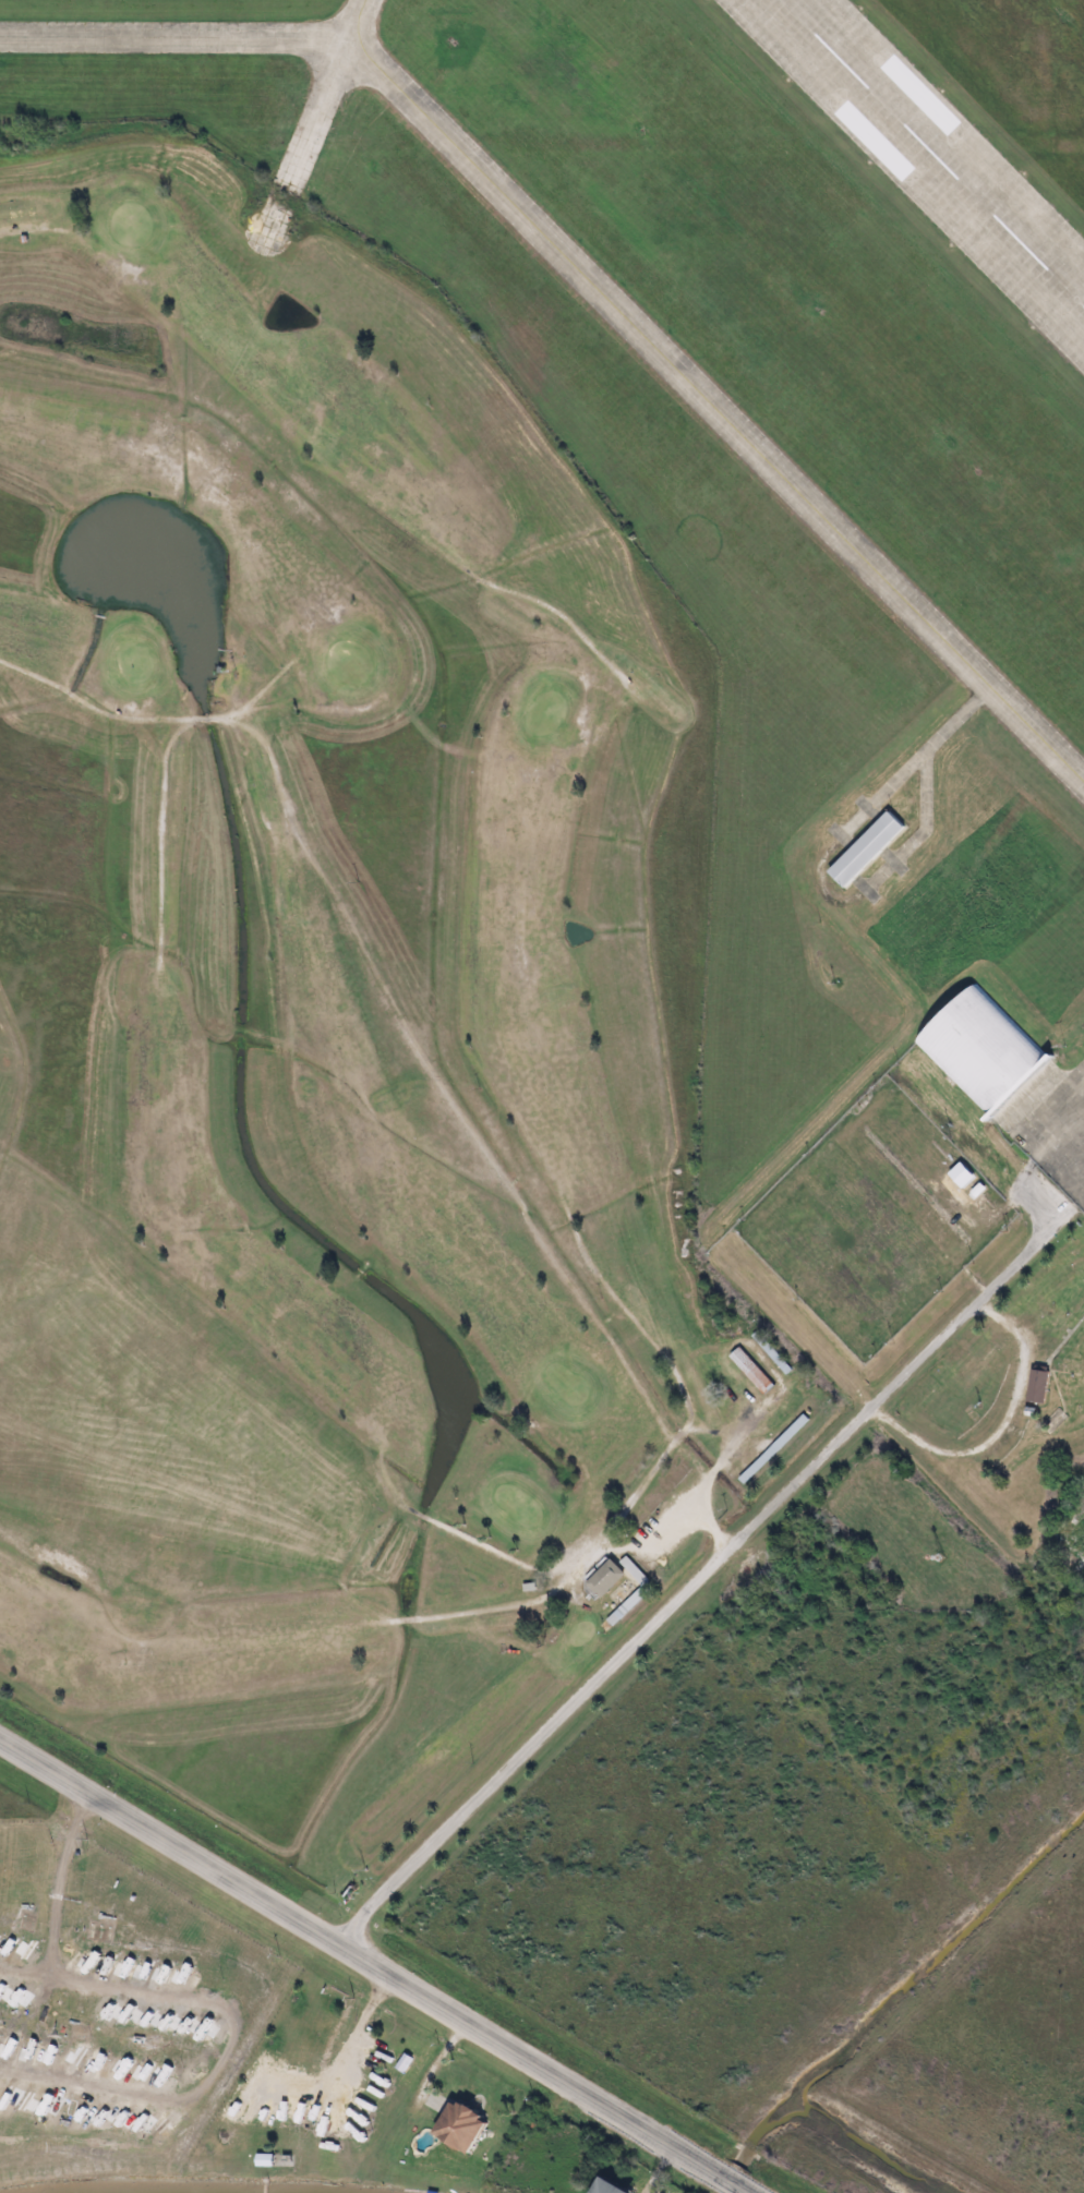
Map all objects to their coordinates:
airport taxiway: (354, 20)
airport taxiway: (173, 40)
airport runway: (931, 154)
road: (24, 231)
airport taxiway: (715, 412)
airport: (783, 579)
road: (545, 606)
road: (148, 722)
road: (153, 738)
road: (161, 836)
building: (868, 847)
road: (358, 939)
park: (337, 990)
building: (981, 1047)
airport apron: (1052, 1125)
road: (583, 1305)
building: (775, 1358)
building: (754, 1371)
building: (1039, 1385)
road: (762, 1411)
building: (774, 1448)
road: (678, 1516)
road: (710, 1520)
road: (599, 1552)
road: (529, 1567)
building: (604, 1579)
road: (699, 1580)
road: (378, 1962)
building: (404, 2063)
building: (458, 2129)
building: (263, 2157)
building: (612, 2186)

